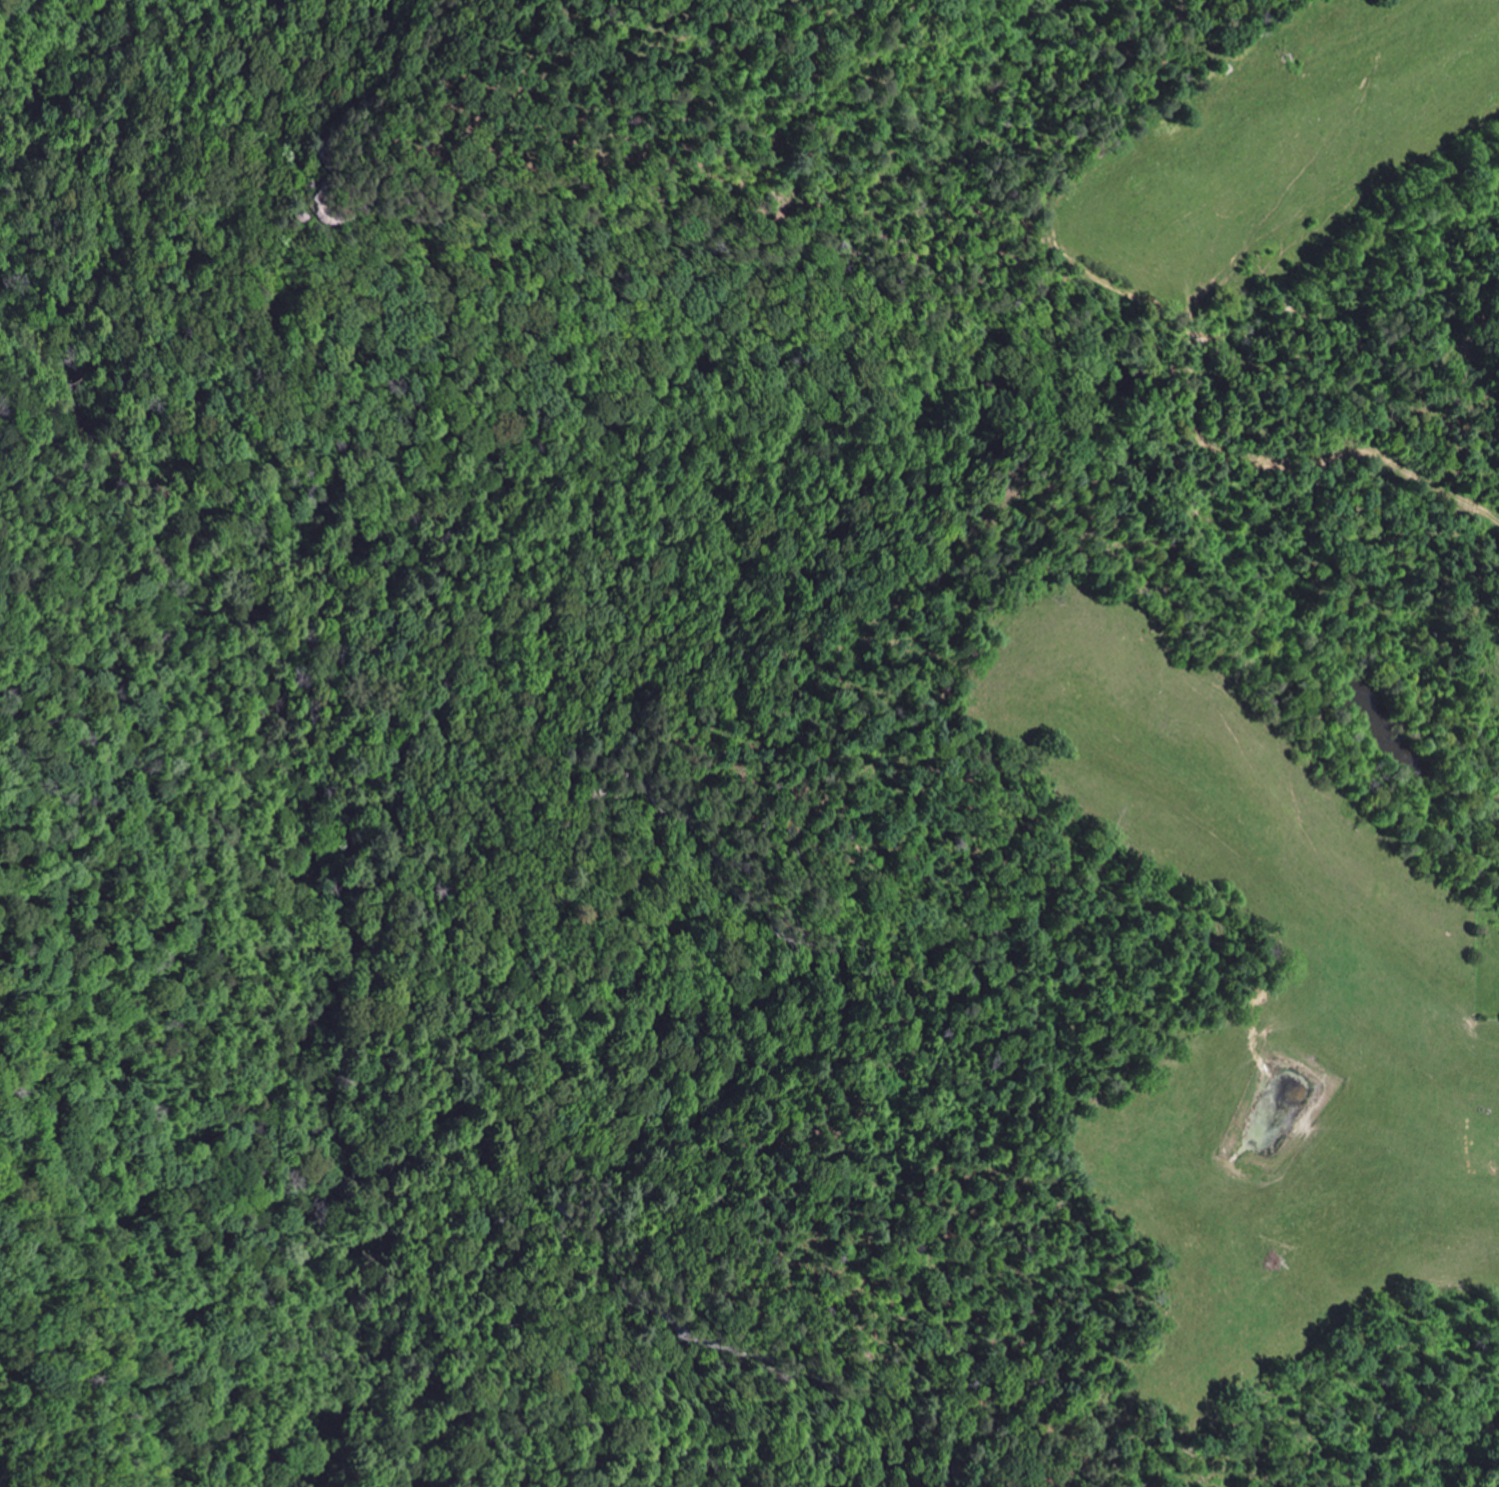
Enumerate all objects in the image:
road: (25, 1410)

